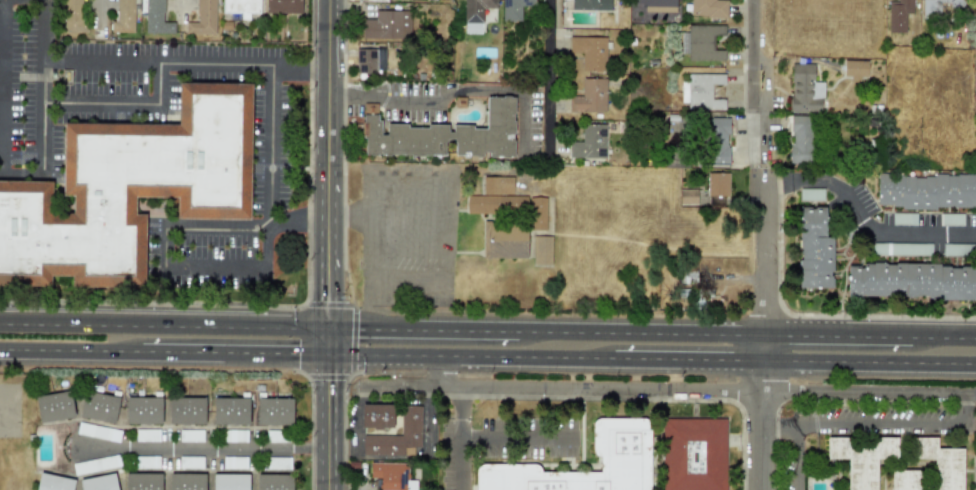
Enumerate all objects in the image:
building: (590, 5)
building: (283, 6)
building: (975, 6)
building: (241, 7)
building: (937, 7)
building: (514, 8)
building: (708, 8)
building: (475, 14)
building: (898, 14)
building: (74, 15)
building: (126, 16)
building: (156, 18)
building: (203, 19)
building: (387, 25)
road: (41, 26)
building: (704, 42)
building: (589, 51)
road: (155, 54)
road: (298, 57)
building: (370, 60)
road: (753, 61)
building: (855, 69)
road: (552, 83)
road: (464, 89)
building: (804, 89)
building: (701, 91)
building: (589, 96)
road: (338, 97)
road: (128, 107)
building: (444, 134)
road: (764, 139)
building: (800, 139)
building: (717, 140)
building: (589, 142)
road: (326, 164)
road: (3, 169)
road: (1, 174)
building: (717, 184)
building: (128, 190)
building: (926, 191)
building: (811, 193)
building: (687, 196)
building: (496, 198)
building: (717, 200)
building: (537, 213)
road: (388, 216)
building: (903, 218)
road: (863, 219)
building: (951, 219)
road: (215, 226)
road: (296, 226)
road: (265, 237)
building: (504, 240)
building: (813, 248)
building: (901, 248)
building: (541, 249)
building: (959, 249)
road: (765, 250)
building: (912, 280)
road: (163, 326)
road: (422, 330)
road: (641, 333)
road: (838, 336)
road: (943, 338)
road: (327, 341)
road: (766, 348)
road: (69, 350)
road: (233, 352)
road: (469, 356)
road: (689, 360)
road: (871, 362)
road: (444, 372)
road: (764, 376)
road: (668, 390)
building: (54, 406)
building: (98, 406)
building: (143, 410)
building: (185, 410)
building: (230, 411)
building: (273, 411)
building: (376, 415)
road: (326, 421)
road: (878, 423)
building: (96, 431)
building: (147, 435)
building: (191, 435)
building: (273, 435)
building: (397, 435)
building: (234, 436)
building: (620, 436)
road: (462, 438)
road: (518, 439)
road: (762, 440)
road: (203, 449)
building: (693, 454)
road: (799, 456)
building: (861, 457)
building: (147, 462)
building: (190, 462)
building: (234, 462)
building: (278, 462)
building: (941, 463)
building: (97, 464)
building: (391, 475)
building: (904, 479)
building: (143, 481)
building: (186, 481)
building: (230, 481)
building: (53, 482)
building: (99, 482)
building: (273, 482)

